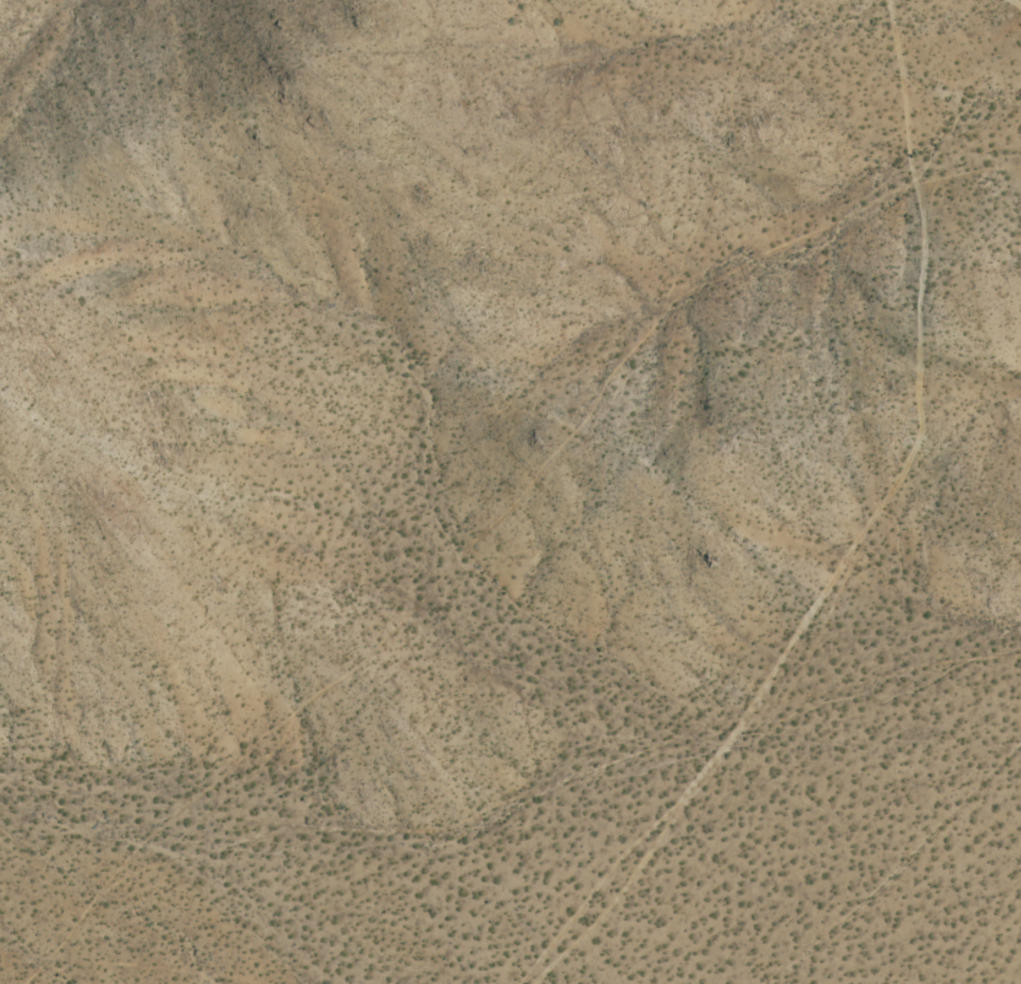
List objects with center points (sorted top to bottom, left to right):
road: (1015, 4)

